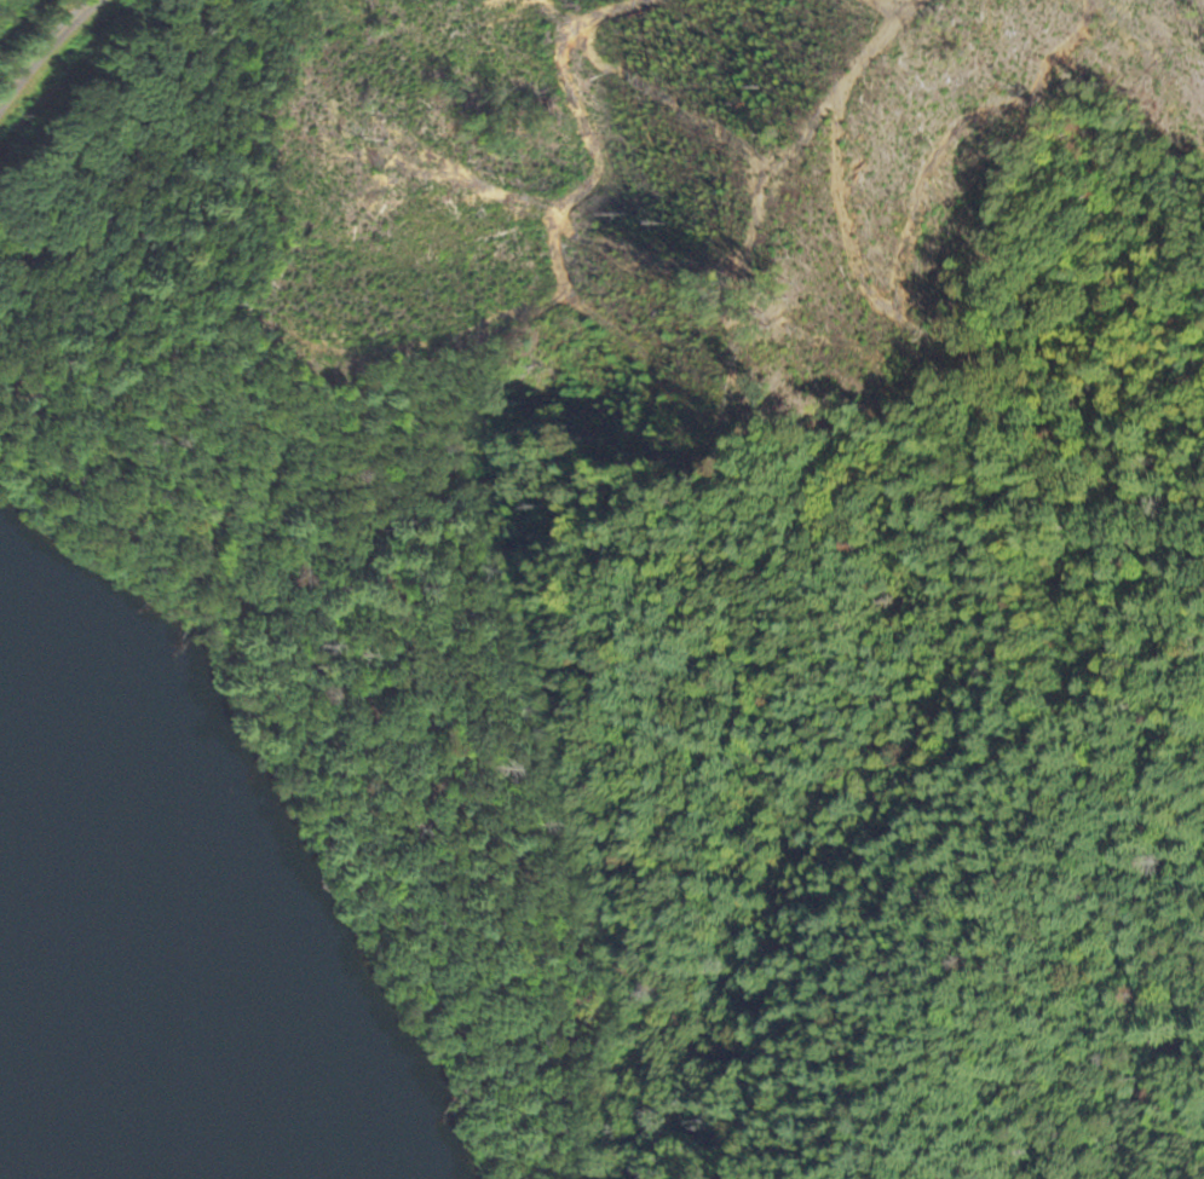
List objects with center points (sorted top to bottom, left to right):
road: (40, 46)
river: (104, 1027)

